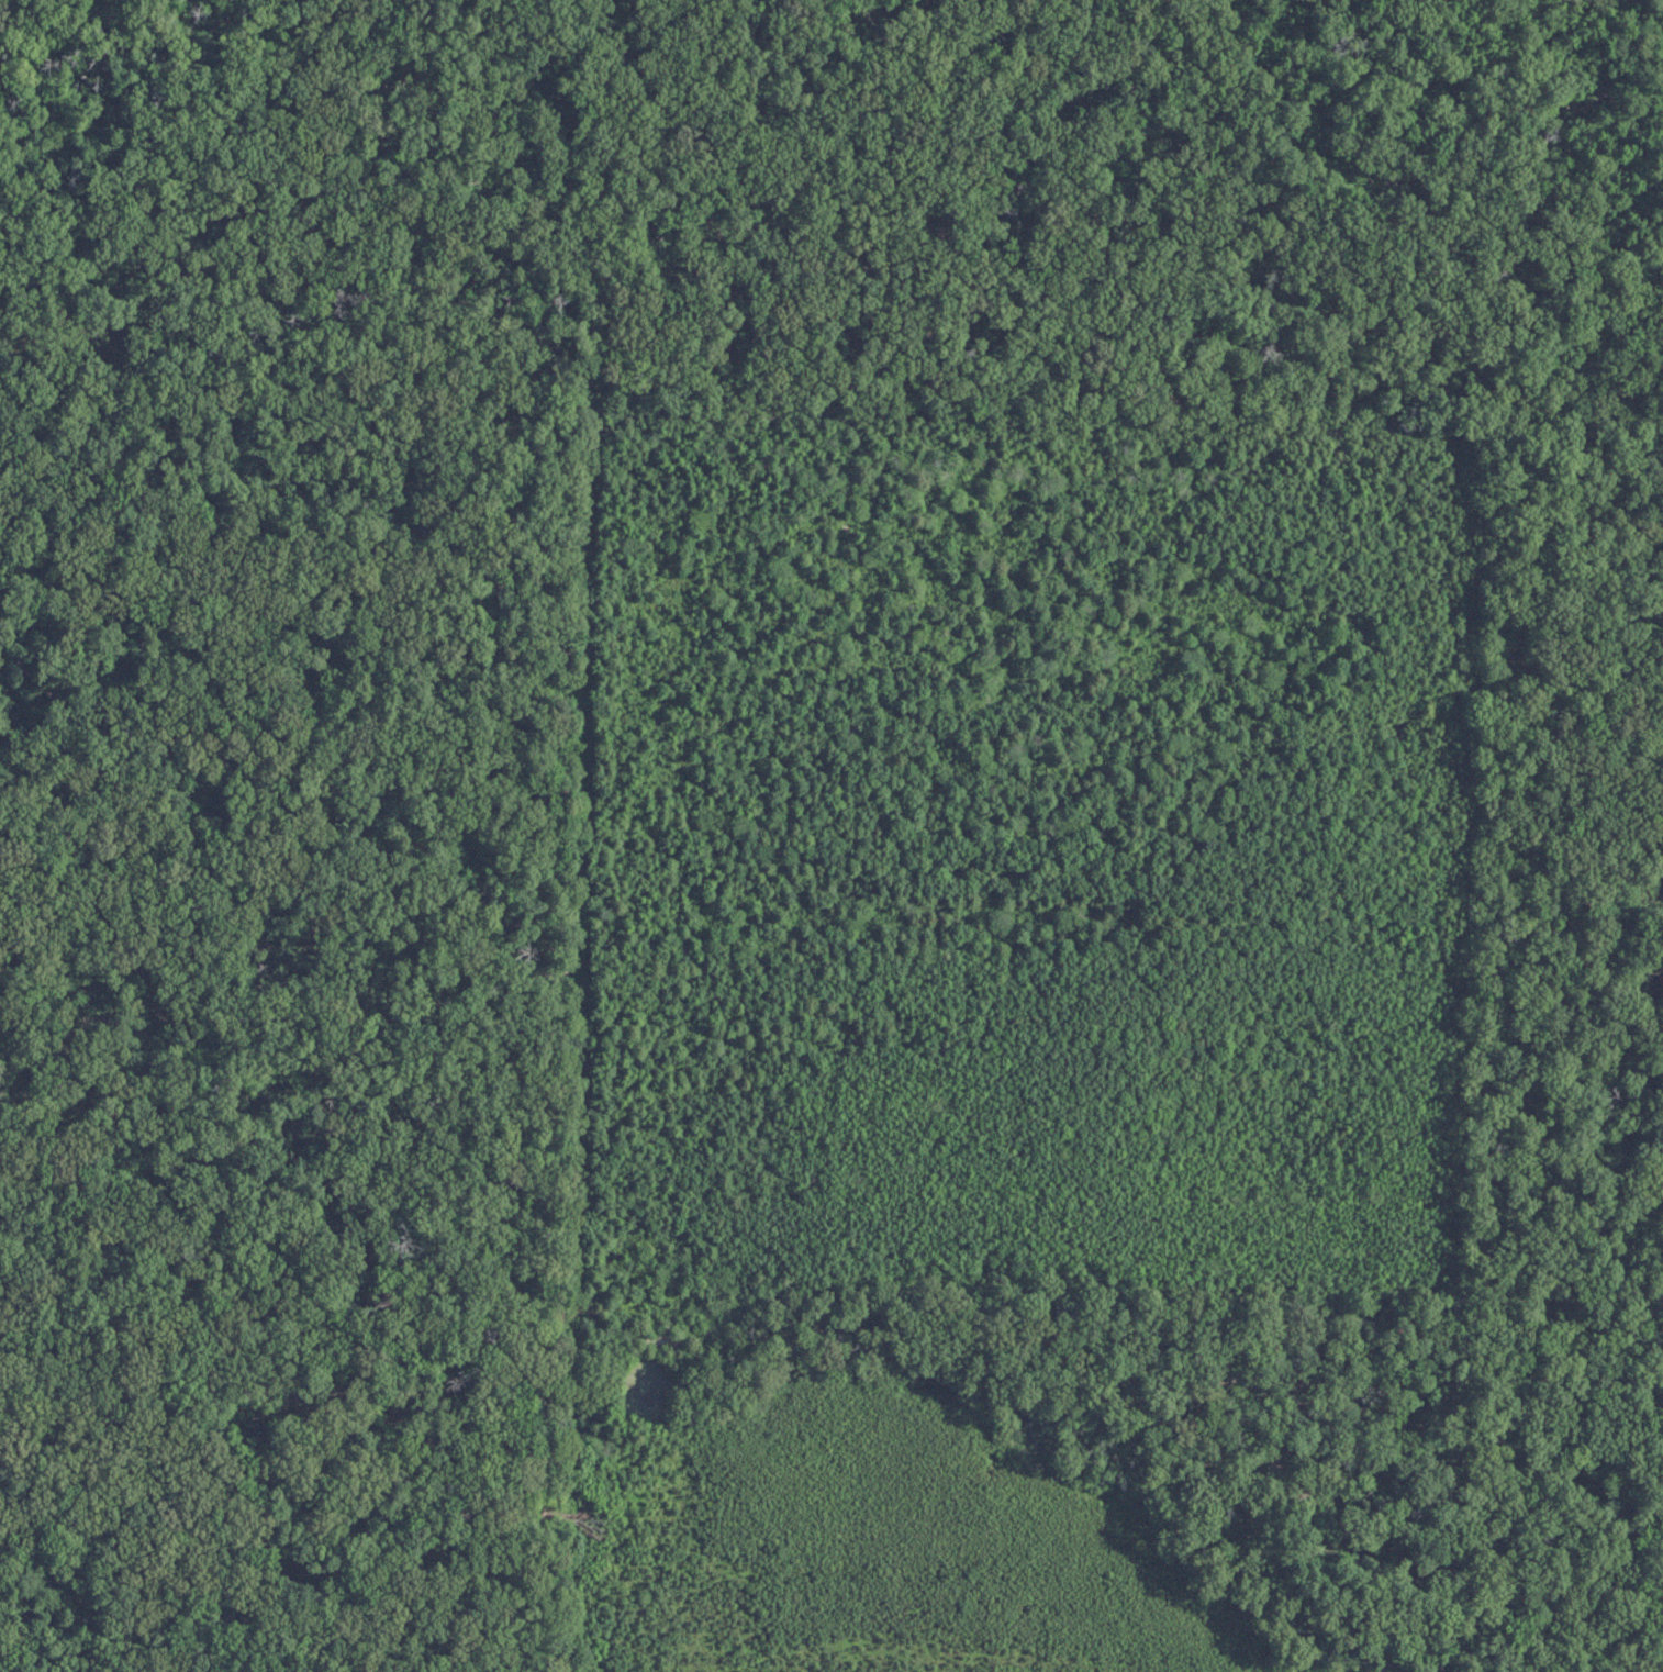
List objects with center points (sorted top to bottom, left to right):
road: (593, 1058)

